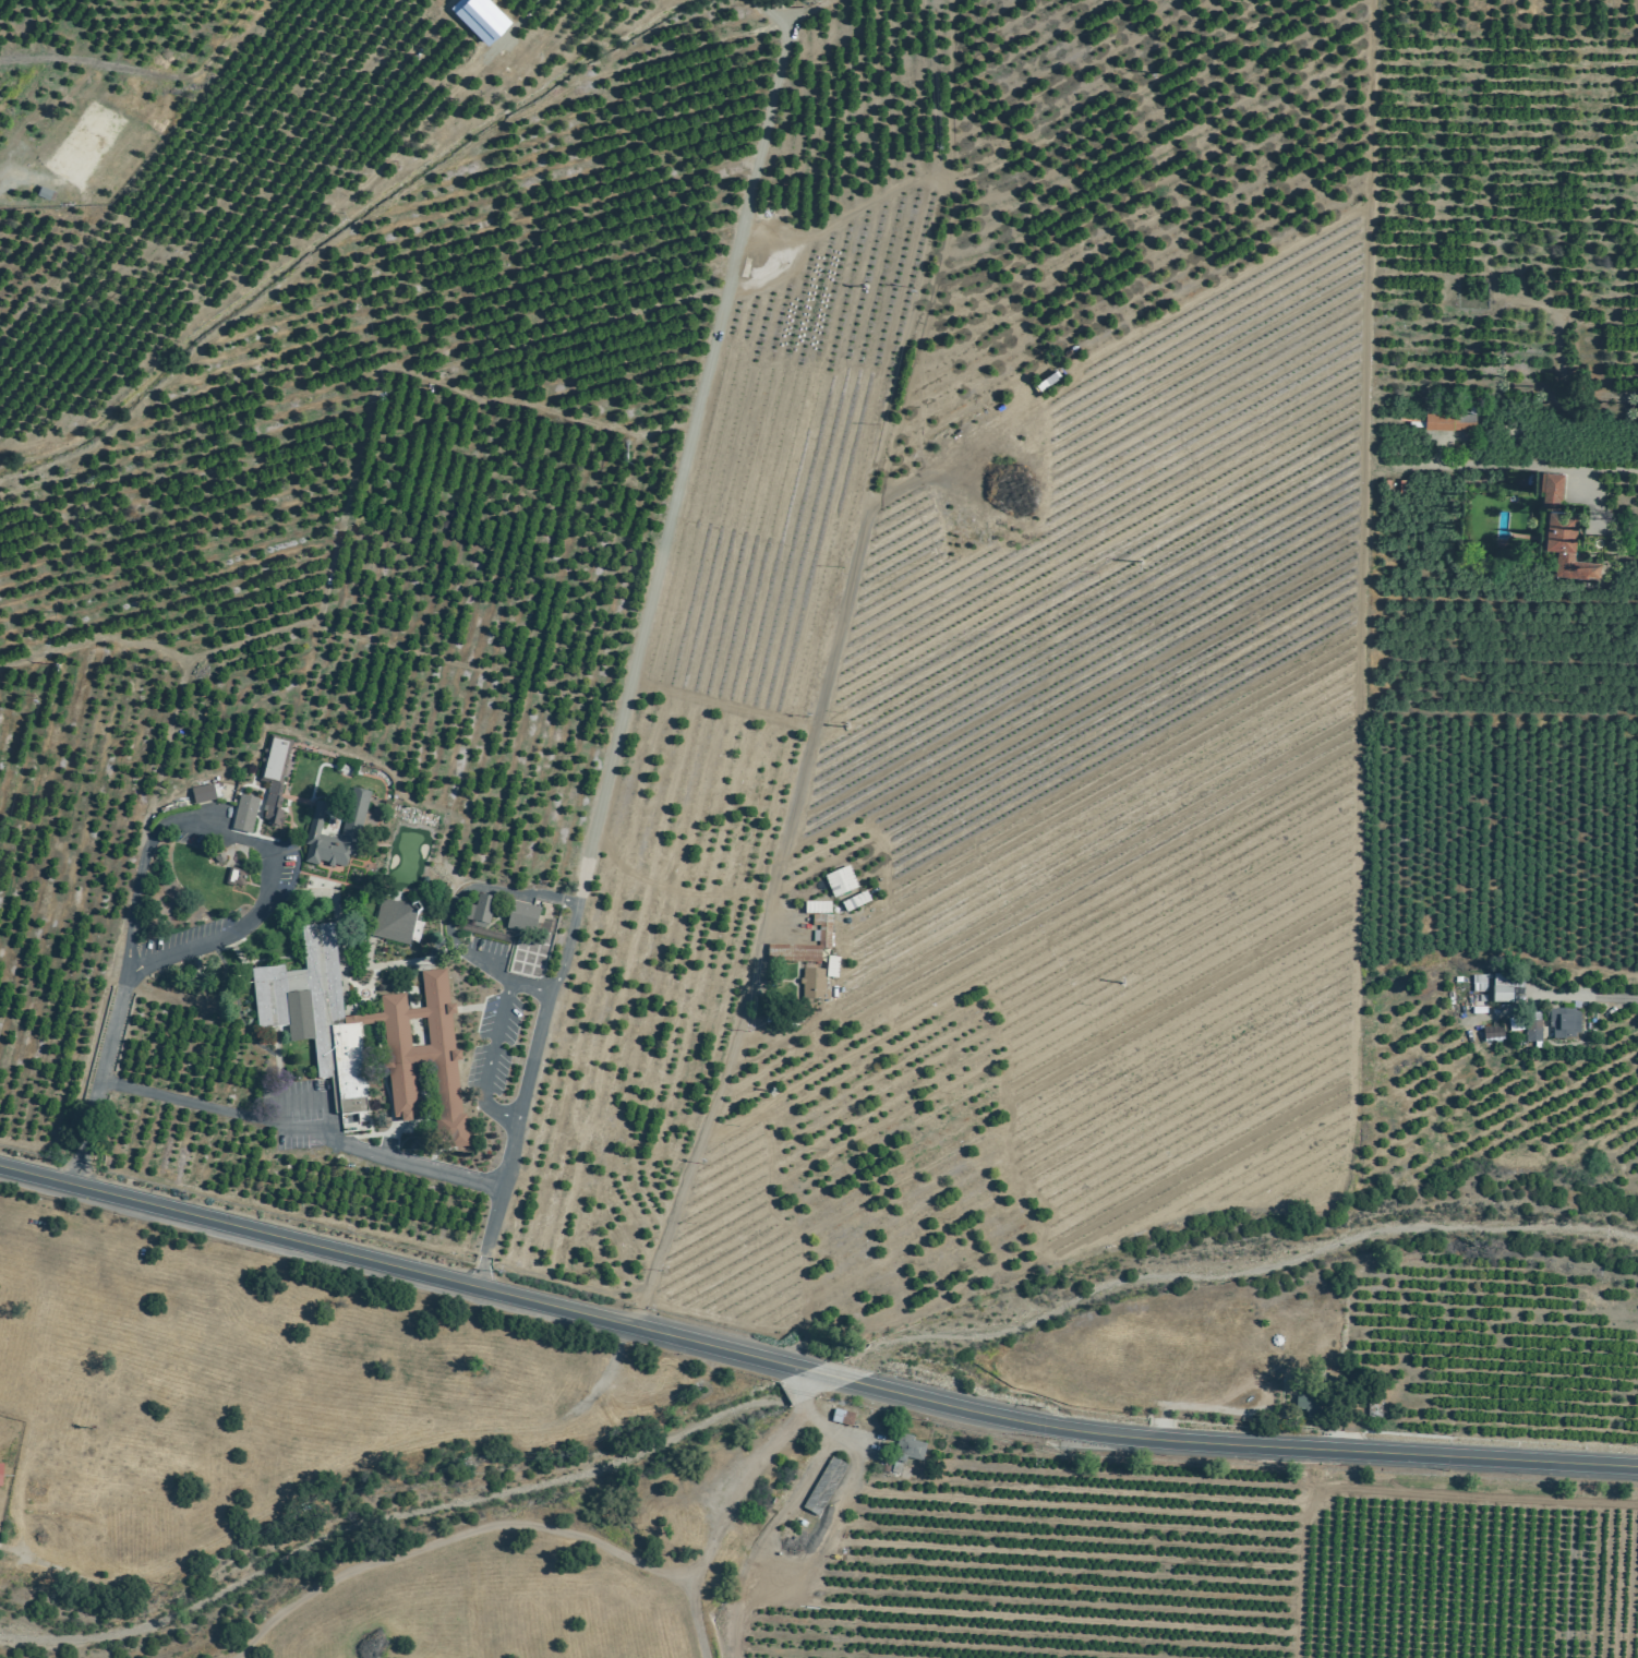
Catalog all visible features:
building: (46, 192)
building: (1448, 421)
road: (1610, 469)
building: (1550, 489)
building: (1565, 546)
road: (627, 684)
building: (275, 781)
building: (204, 794)
building: (245, 814)
building: (354, 818)
road: (244, 842)
building: (843, 881)
building: (858, 902)
building: (481, 910)
building: (396, 922)
building: (811, 956)
road: (492, 965)
building: (1479, 984)
road: (528, 986)
building: (1502, 987)
road: (1612, 995)
building: (1566, 1022)
building: (1515, 1023)
building: (1534, 1032)
building: (327, 1033)
building: (1495, 1034)
road: (486, 1061)
road: (94, 1074)
road: (297, 1133)
road: (686, 1162)
road: (400, 1265)
road: (827, 1375)
road: (799, 1385)
building: (1310, 1403)
building: (844, 1417)
road: (1242, 1442)
building: (907, 1452)
building: (1, 1474)
building: (826, 1486)
road: (722, 1524)
road: (450, 1537)

